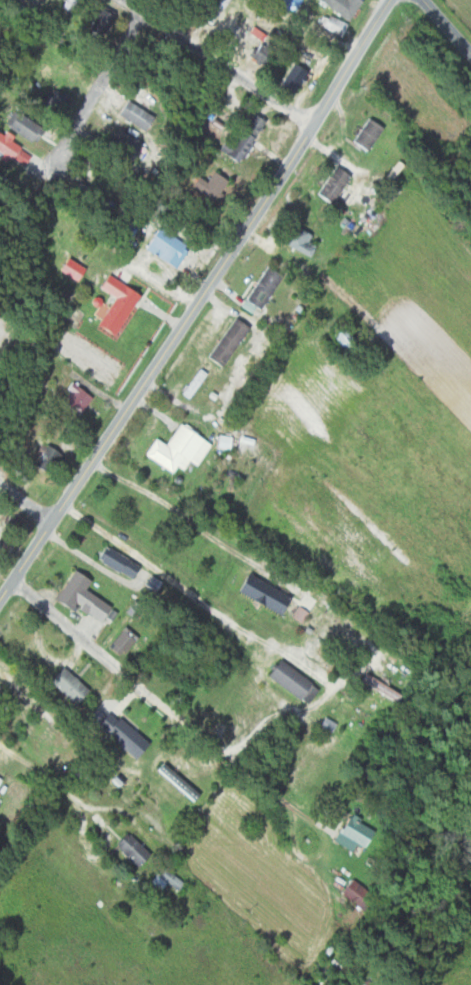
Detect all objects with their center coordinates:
building: (285, 4)
building: (337, 7)
building: (212, 12)
building: (96, 21)
road: (446, 25)
building: (256, 54)
road: (219, 61)
road: (104, 77)
building: (290, 79)
building: (53, 101)
building: (131, 116)
building: (22, 129)
building: (365, 135)
building: (237, 140)
building: (115, 142)
building: (6, 147)
building: (330, 185)
building: (204, 187)
building: (91, 198)
building: (295, 241)
building: (160, 248)
building: (66, 270)
building: (258, 291)
road: (200, 299)
building: (111, 306)
building: (225, 342)
building: (192, 384)
building: (72, 399)
building: (22, 437)
building: (175, 450)
building: (45, 454)
road: (25, 505)
building: (126, 505)
building: (115, 563)
building: (260, 595)
building: (78, 598)
road: (298, 623)
building: (120, 641)
road: (120, 667)
building: (290, 683)
building: (65, 686)
building: (115, 732)
building: (0, 781)
building: (176, 782)
building: (348, 835)
road: (50, 838)
building: (129, 850)
building: (163, 880)
building: (352, 895)

